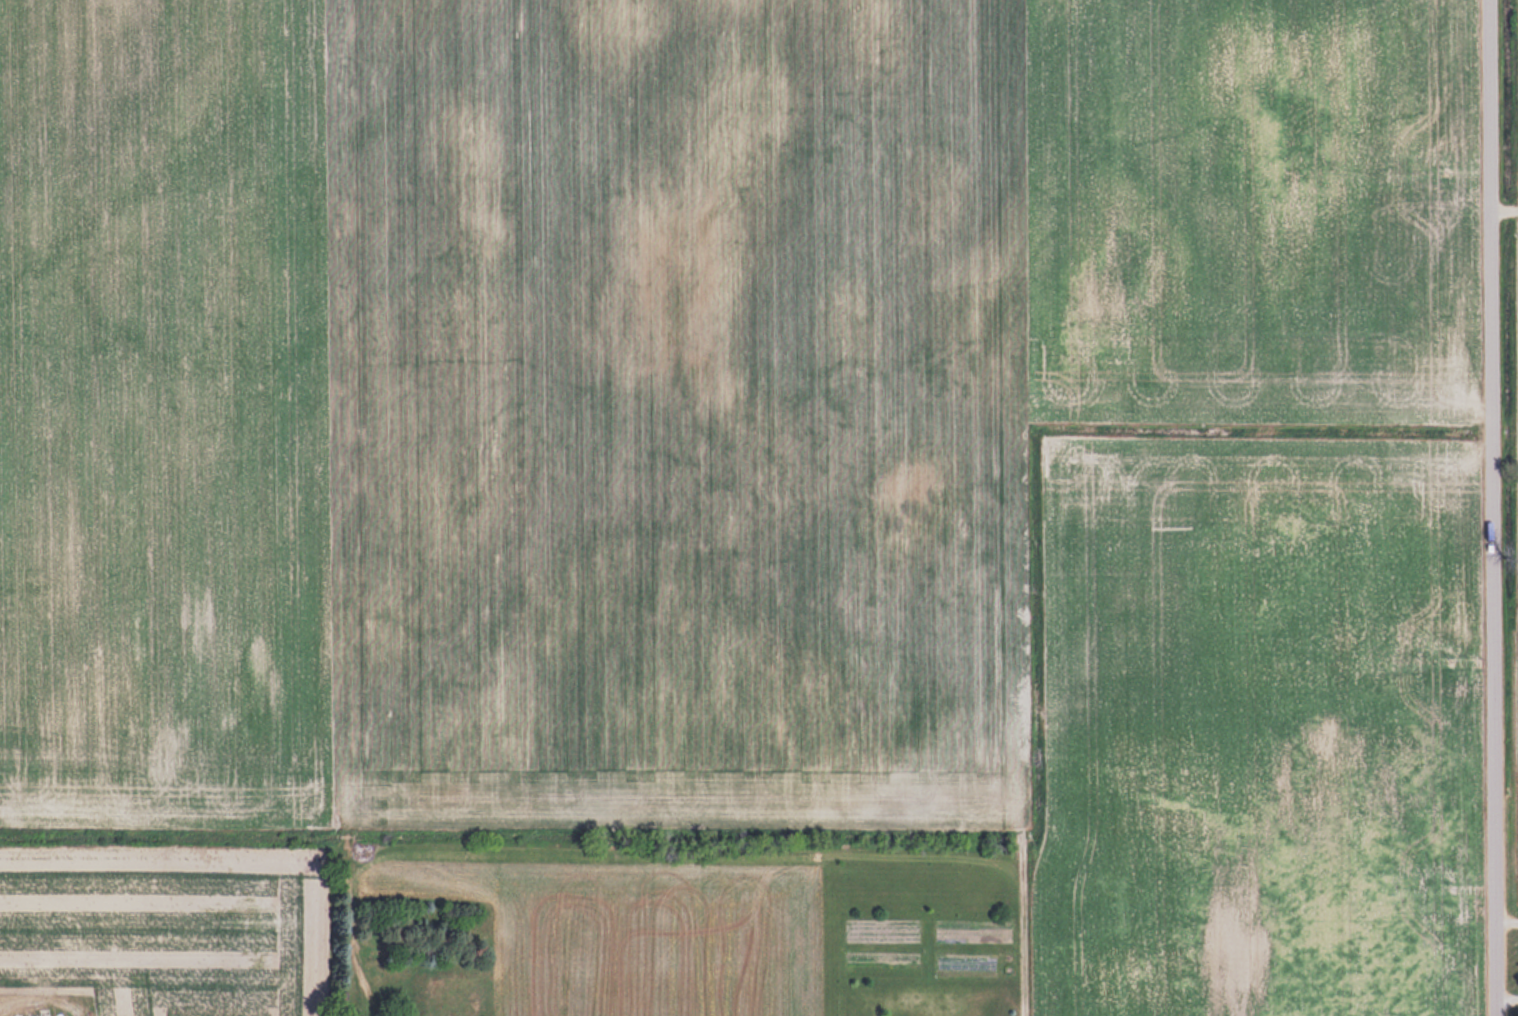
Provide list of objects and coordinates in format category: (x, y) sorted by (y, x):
road: (1494, 508)
building: (35, 1015)

